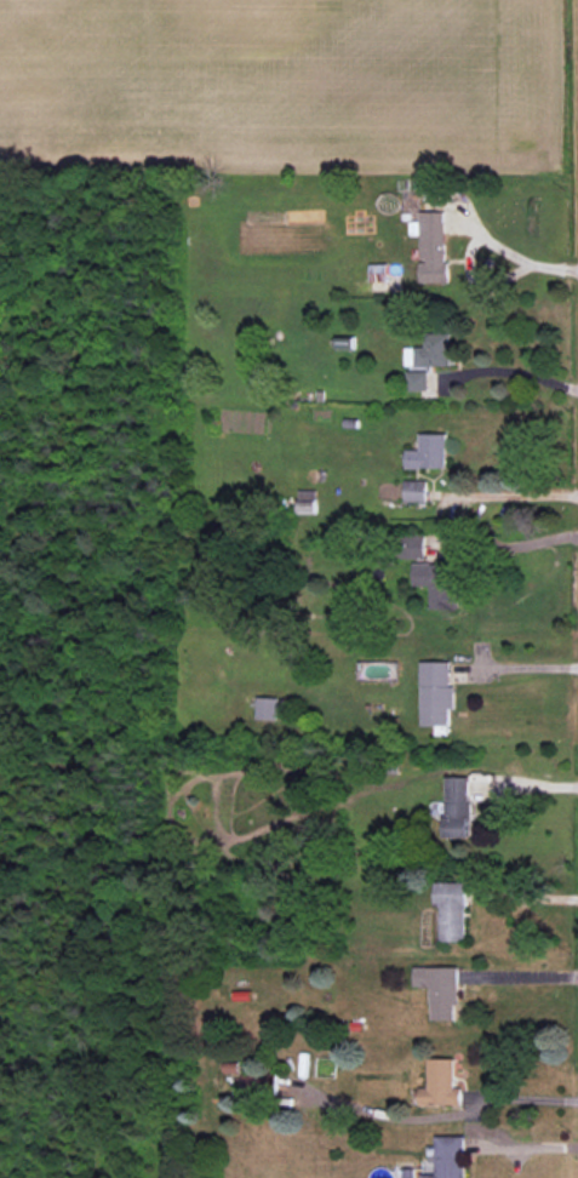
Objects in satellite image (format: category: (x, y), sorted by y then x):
building: (431, 245)
road: (514, 255)
building: (385, 276)
road: (476, 281)
building: (431, 350)
road: (509, 371)
building: (417, 381)
building: (428, 452)
building: (416, 491)
road: (511, 494)
building: (412, 545)
road: (504, 545)
building: (439, 582)
road: (514, 667)
building: (436, 692)
building: (269, 708)
road: (521, 785)
building: (457, 807)
road: (522, 896)
building: (452, 910)
road: (517, 974)
building: (440, 990)
building: (259, 1081)
building: (441, 1085)
road: (519, 1097)
road: (522, 1145)
building: (448, 1157)

